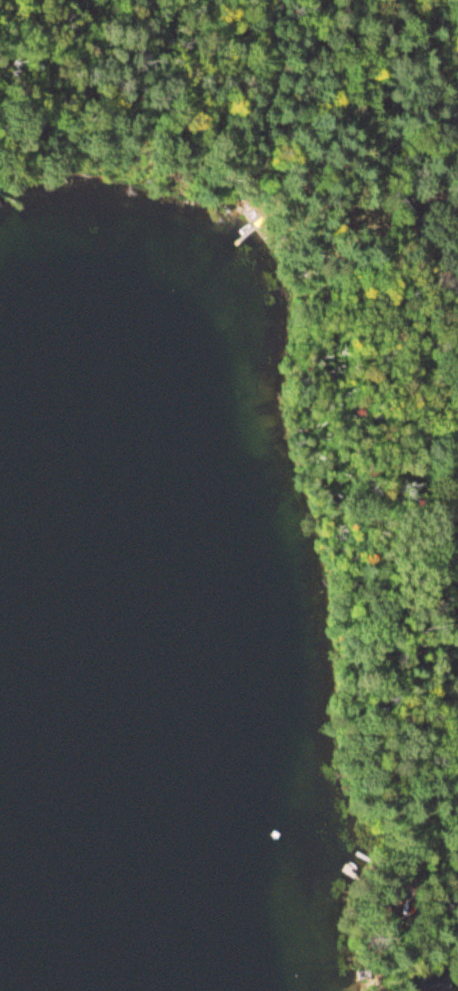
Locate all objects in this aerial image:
road: (456, 2)

